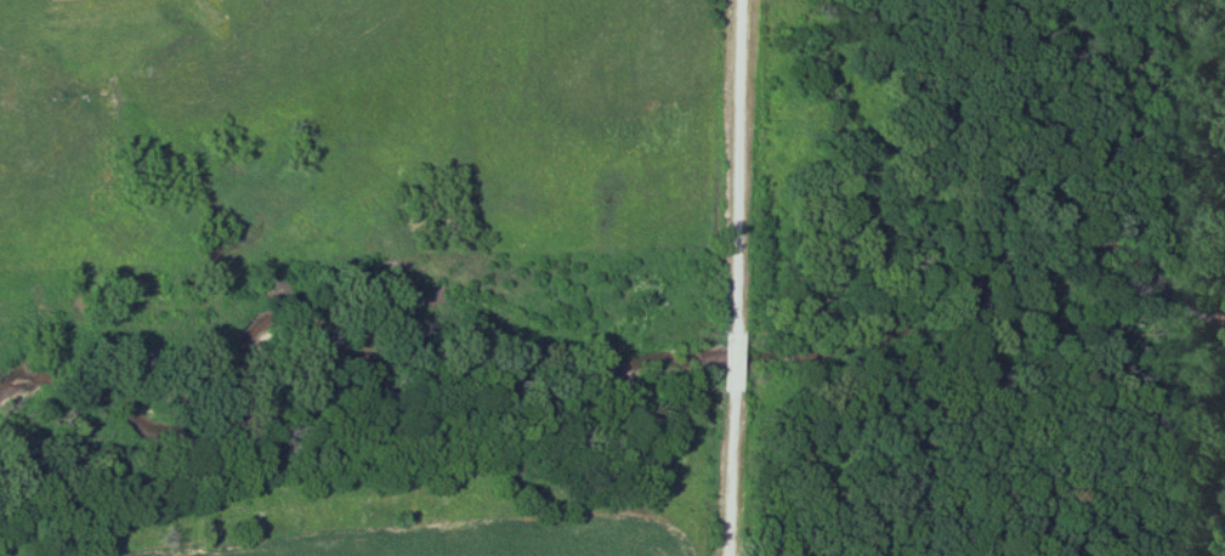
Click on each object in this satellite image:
road: (742, 277)

